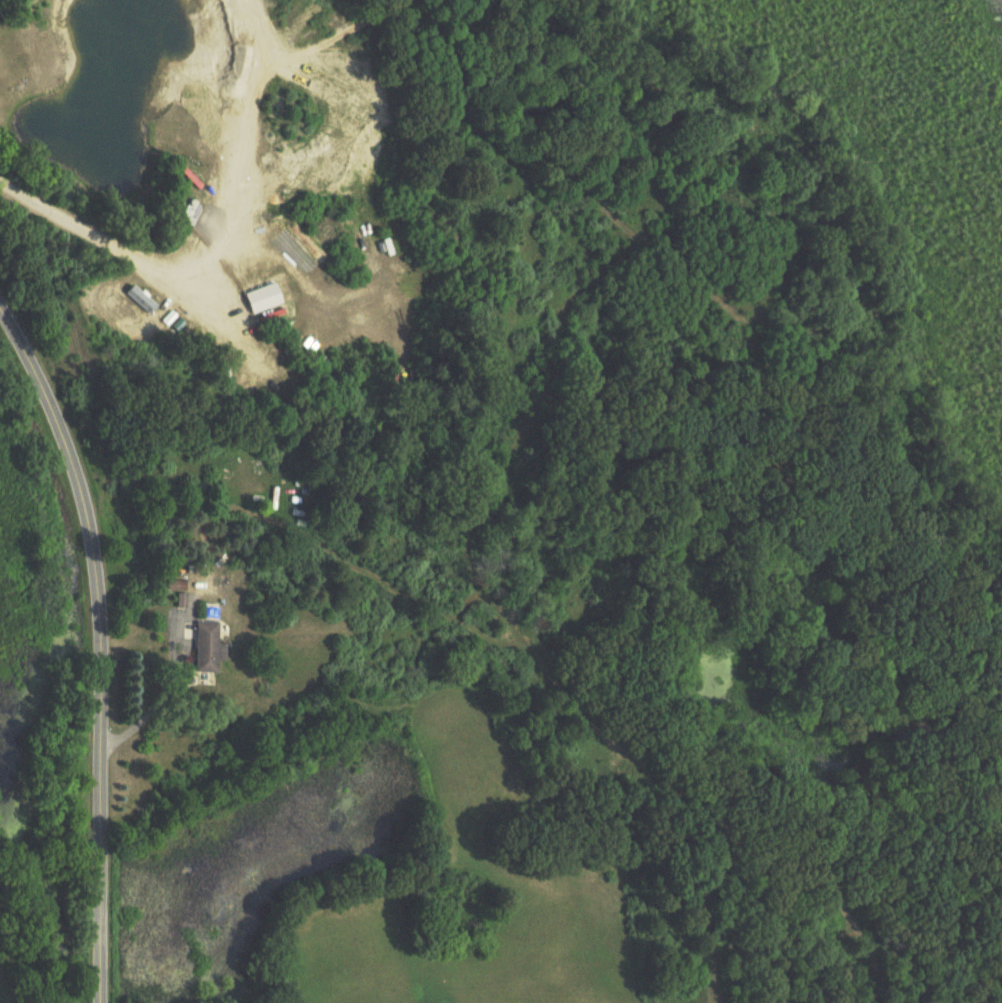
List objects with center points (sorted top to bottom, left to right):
road: (81, 228)
building: (171, 593)
building: (206, 647)
road: (98, 650)
road: (160, 692)

